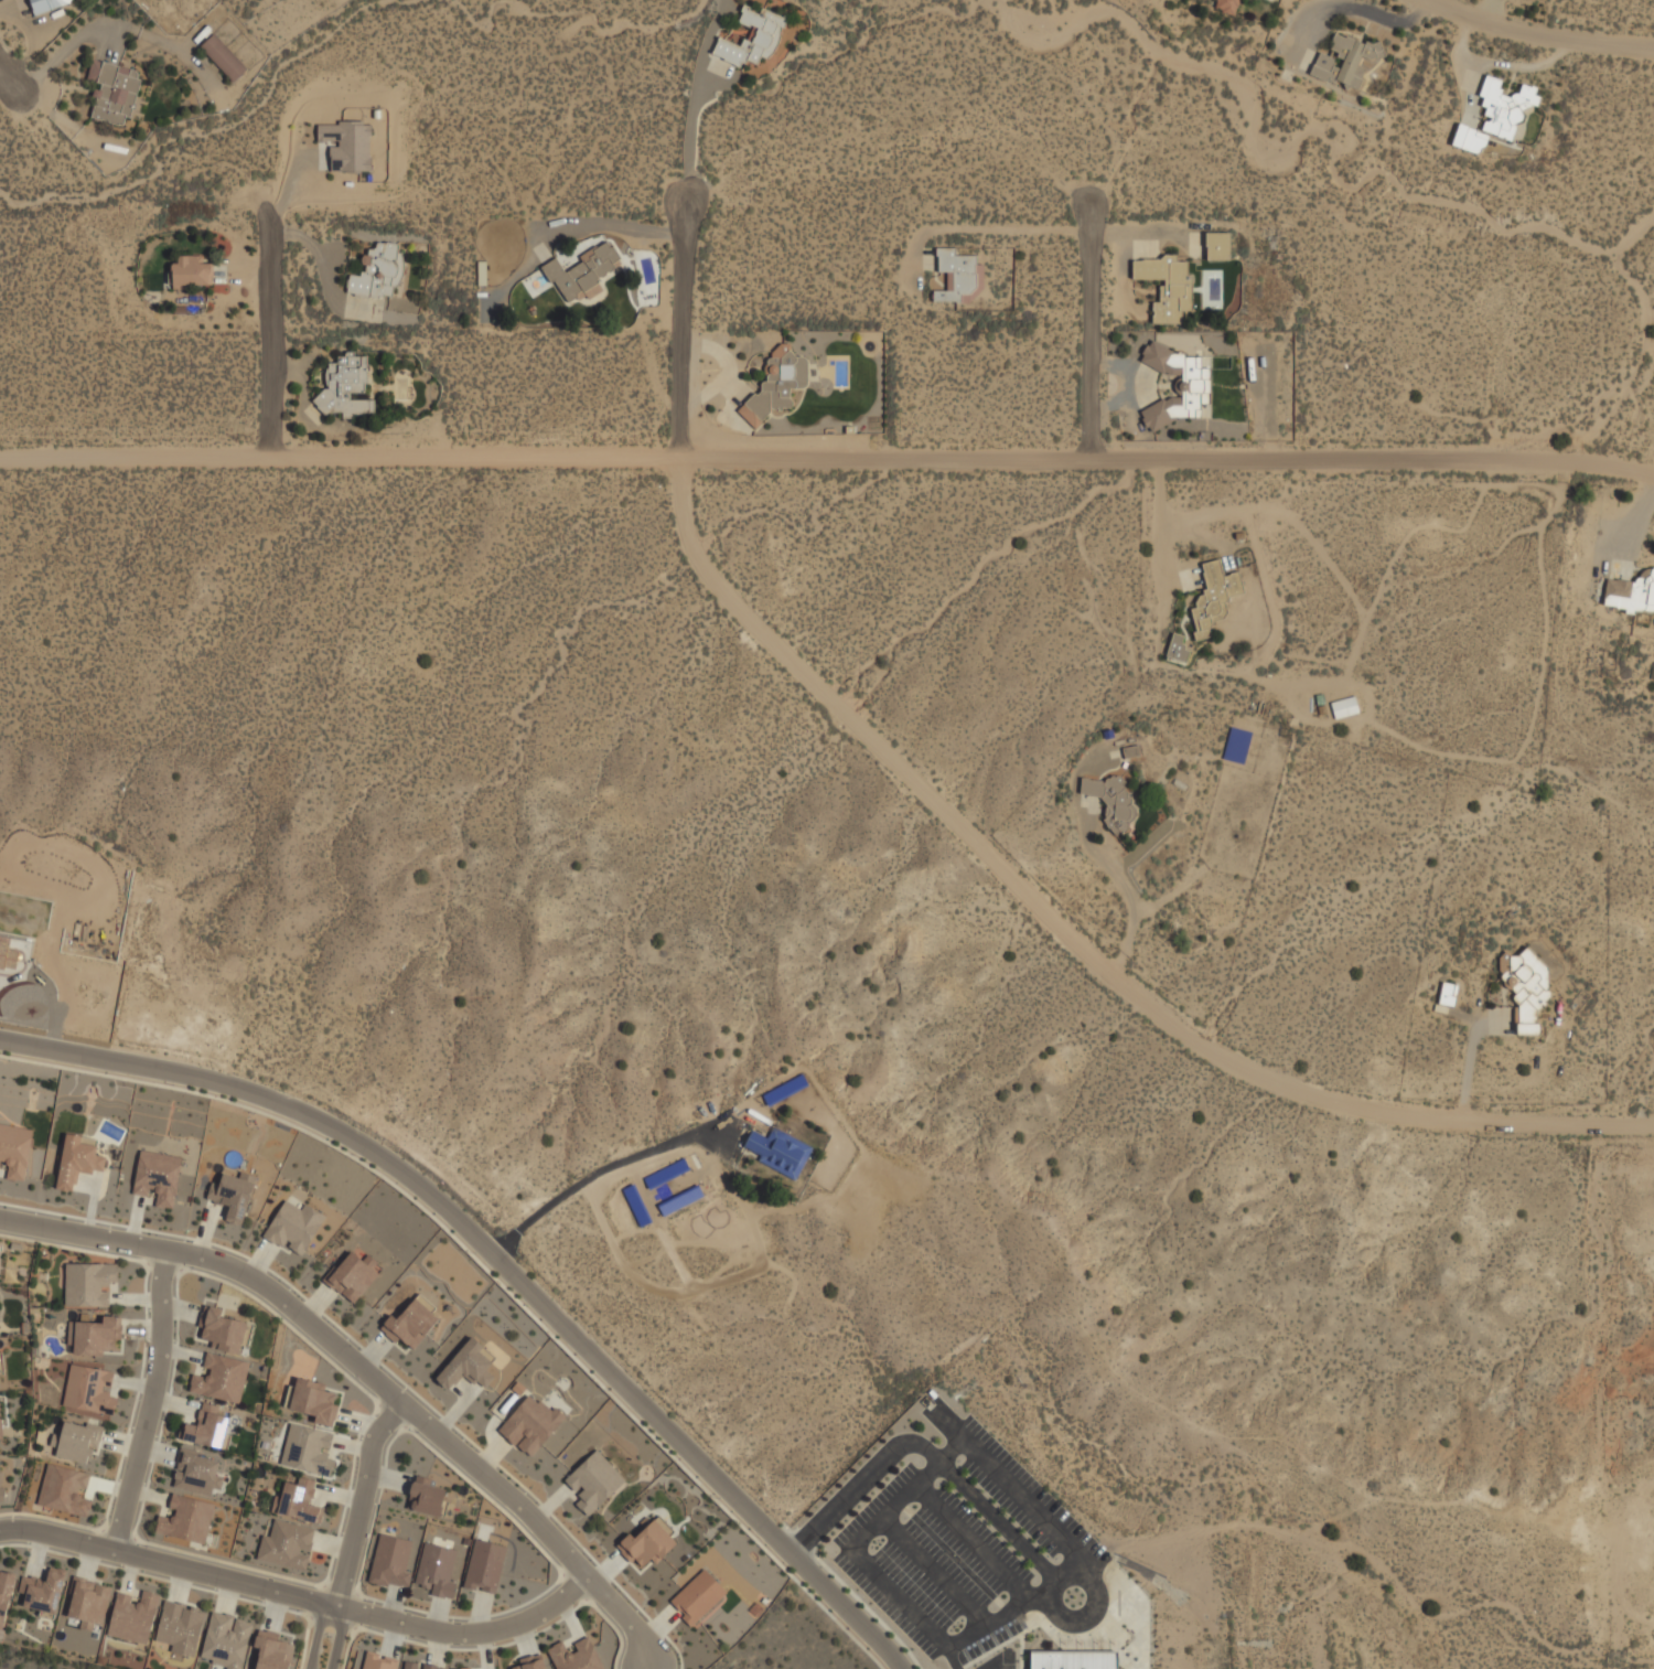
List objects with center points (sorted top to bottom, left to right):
building: (44, 4)
building: (1227, 6)
building: (766, 32)
road: (1539, 34)
building: (222, 55)
building: (1345, 60)
road: (10, 78)
building: (112, 89)
building: (1495, 115)
road: (688, 132)
building: (346, 146)
building: (1216, 245)
building: (189, 270)
building: (581, 271)
building: (955, 274)
building: (379, 275)
building: (1168, 285)
road: (271, 328)
road: (685, 330)
road: (1094, 331)
building: (1194, 381)
building: (775, 383)
building: (344, 386)
road: (827, 459)
building: (1630, 591)
building: (1213, 596)
building: (1175, 646)
building: (1343, 706)
building: (1109, 799)
road: (1077, 934)
building: (7, 954)
building: (1524, 988)
building: (1448, 993)
building: (14, 1151)
building: (778, 1151)
building: (77, 1162)
road: (601, 1171)
building: (155, 1176)
building: (232, 1195)
building: (293, 1226)
road: (504, 1265)
building: (352, 1274)
building: (88, 1283)
building: (410, 1323)
building: (219, 1330)
building: (92, 1335)
building: (465, 1366)
road: (367, 1372)
building: (219, 1379)
building: (88, 1388)
road: (150, 1400)
building: (313, 1401)
building: (529, 1424)
building: (205, 1427)
building: (0, 1433)
building: (77, 1442)
building: (307, 1449)
road: (924, 1449)
road: (948, 1451)
building: (195, 1474)
building: (1, 1476)
building: (592, 1481)
building: (64, 1489)
road: (1012, 1490)
road: (359, 1499)
building: (423, 1499)
building: (297, 1500)
building: (185, 1519)
road: (974, 1542)
building: (645, 1544)
building: (284, 1545)
parking lot: (958, 1549)
building: (389, 1561)
building: (483, 1565)
building: (434, 1570)
road: (933, 1572)
building: (41, 1592)
building: (4, 1594)
road: (894, 1594)
road: (298, 1596)
building: (696, 1596)
building: (88, 1602)
road: (1049, 1608)
building: (132, 1617)
road: (326, 1622)
building: (179, 1628)
road: (316, 1635)
road: (339, 1637)
building: (225, 1640)
building: (271, 1654)
building: (573, 1656)
road: (953, 1658)
building: (1073, 1659)
building: (376, 1661)
building: (409, 1665)
building: (530, 1665)
road: (994, 1665)
building: (429, 1667)
building: (463, 1668)

